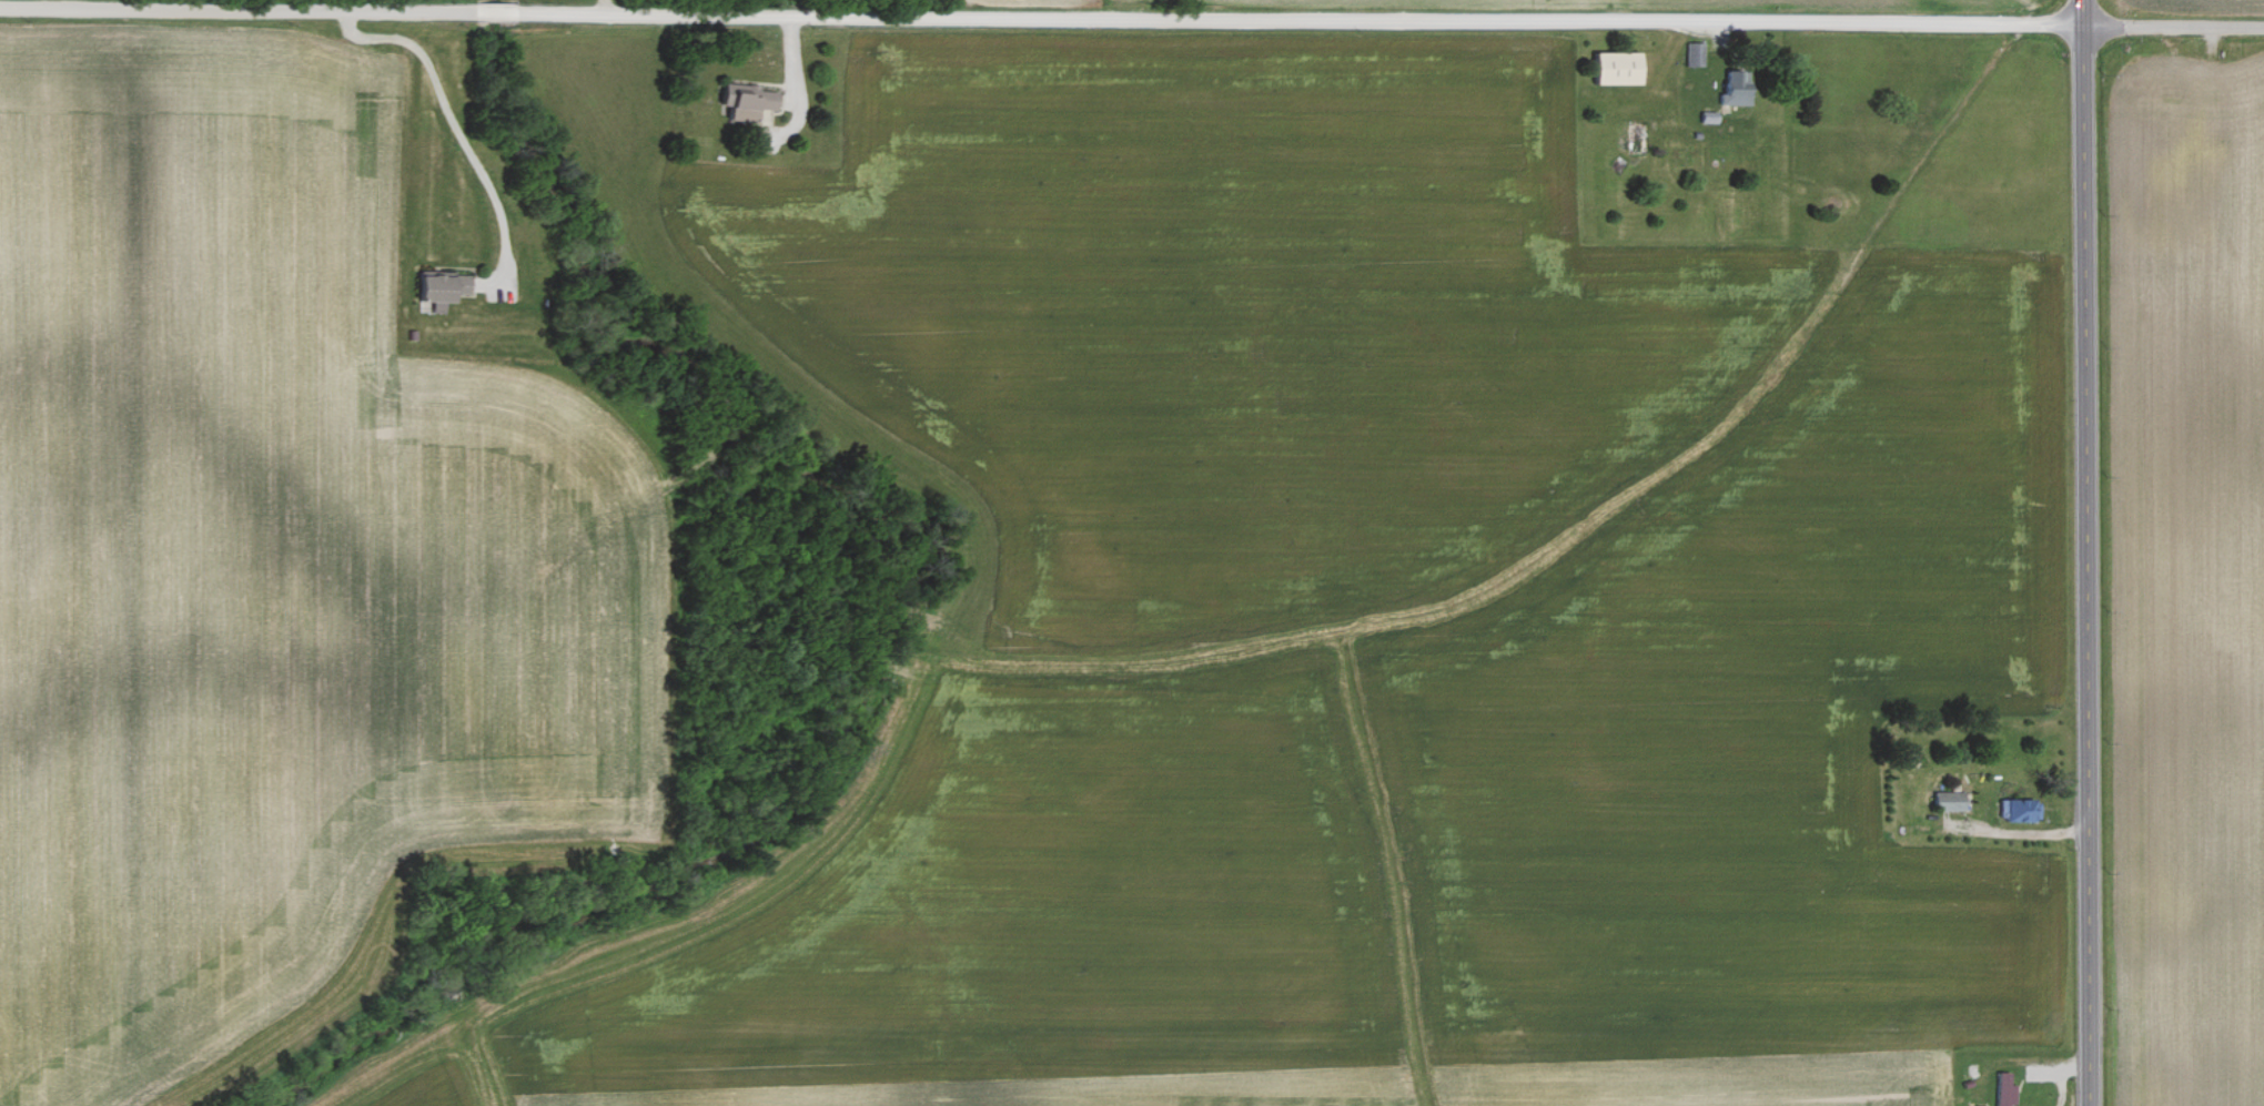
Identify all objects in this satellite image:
road: (1040, 20)
road: (2173, 26)
building: (1692, 54)
building: (1615, 68)
building: (1734, 89)
road: (791, 91)
building: (744, 101)
road: (455, 126)
building: (438, 287)
road: (2085, 552)
building: (1947, 800)
building: (2018, 809)
building: (2000, 1095)

